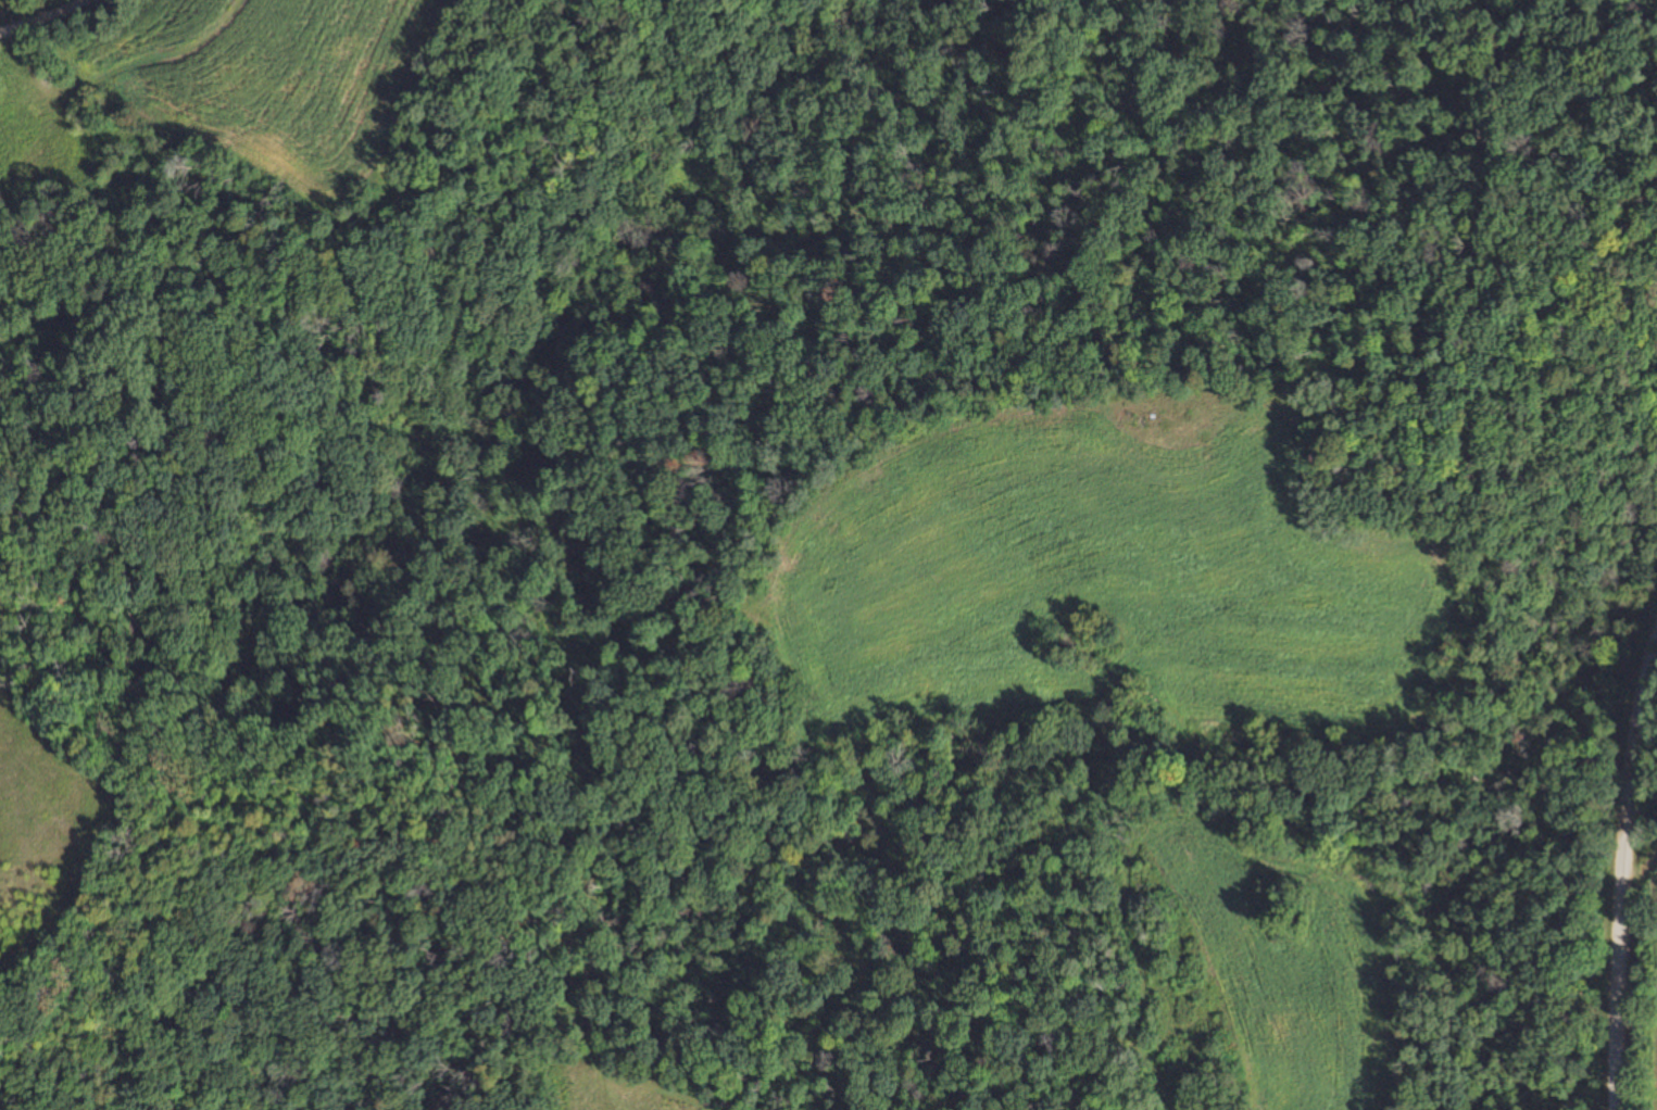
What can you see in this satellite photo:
road: (58, 43)
road: (1590, 886)

